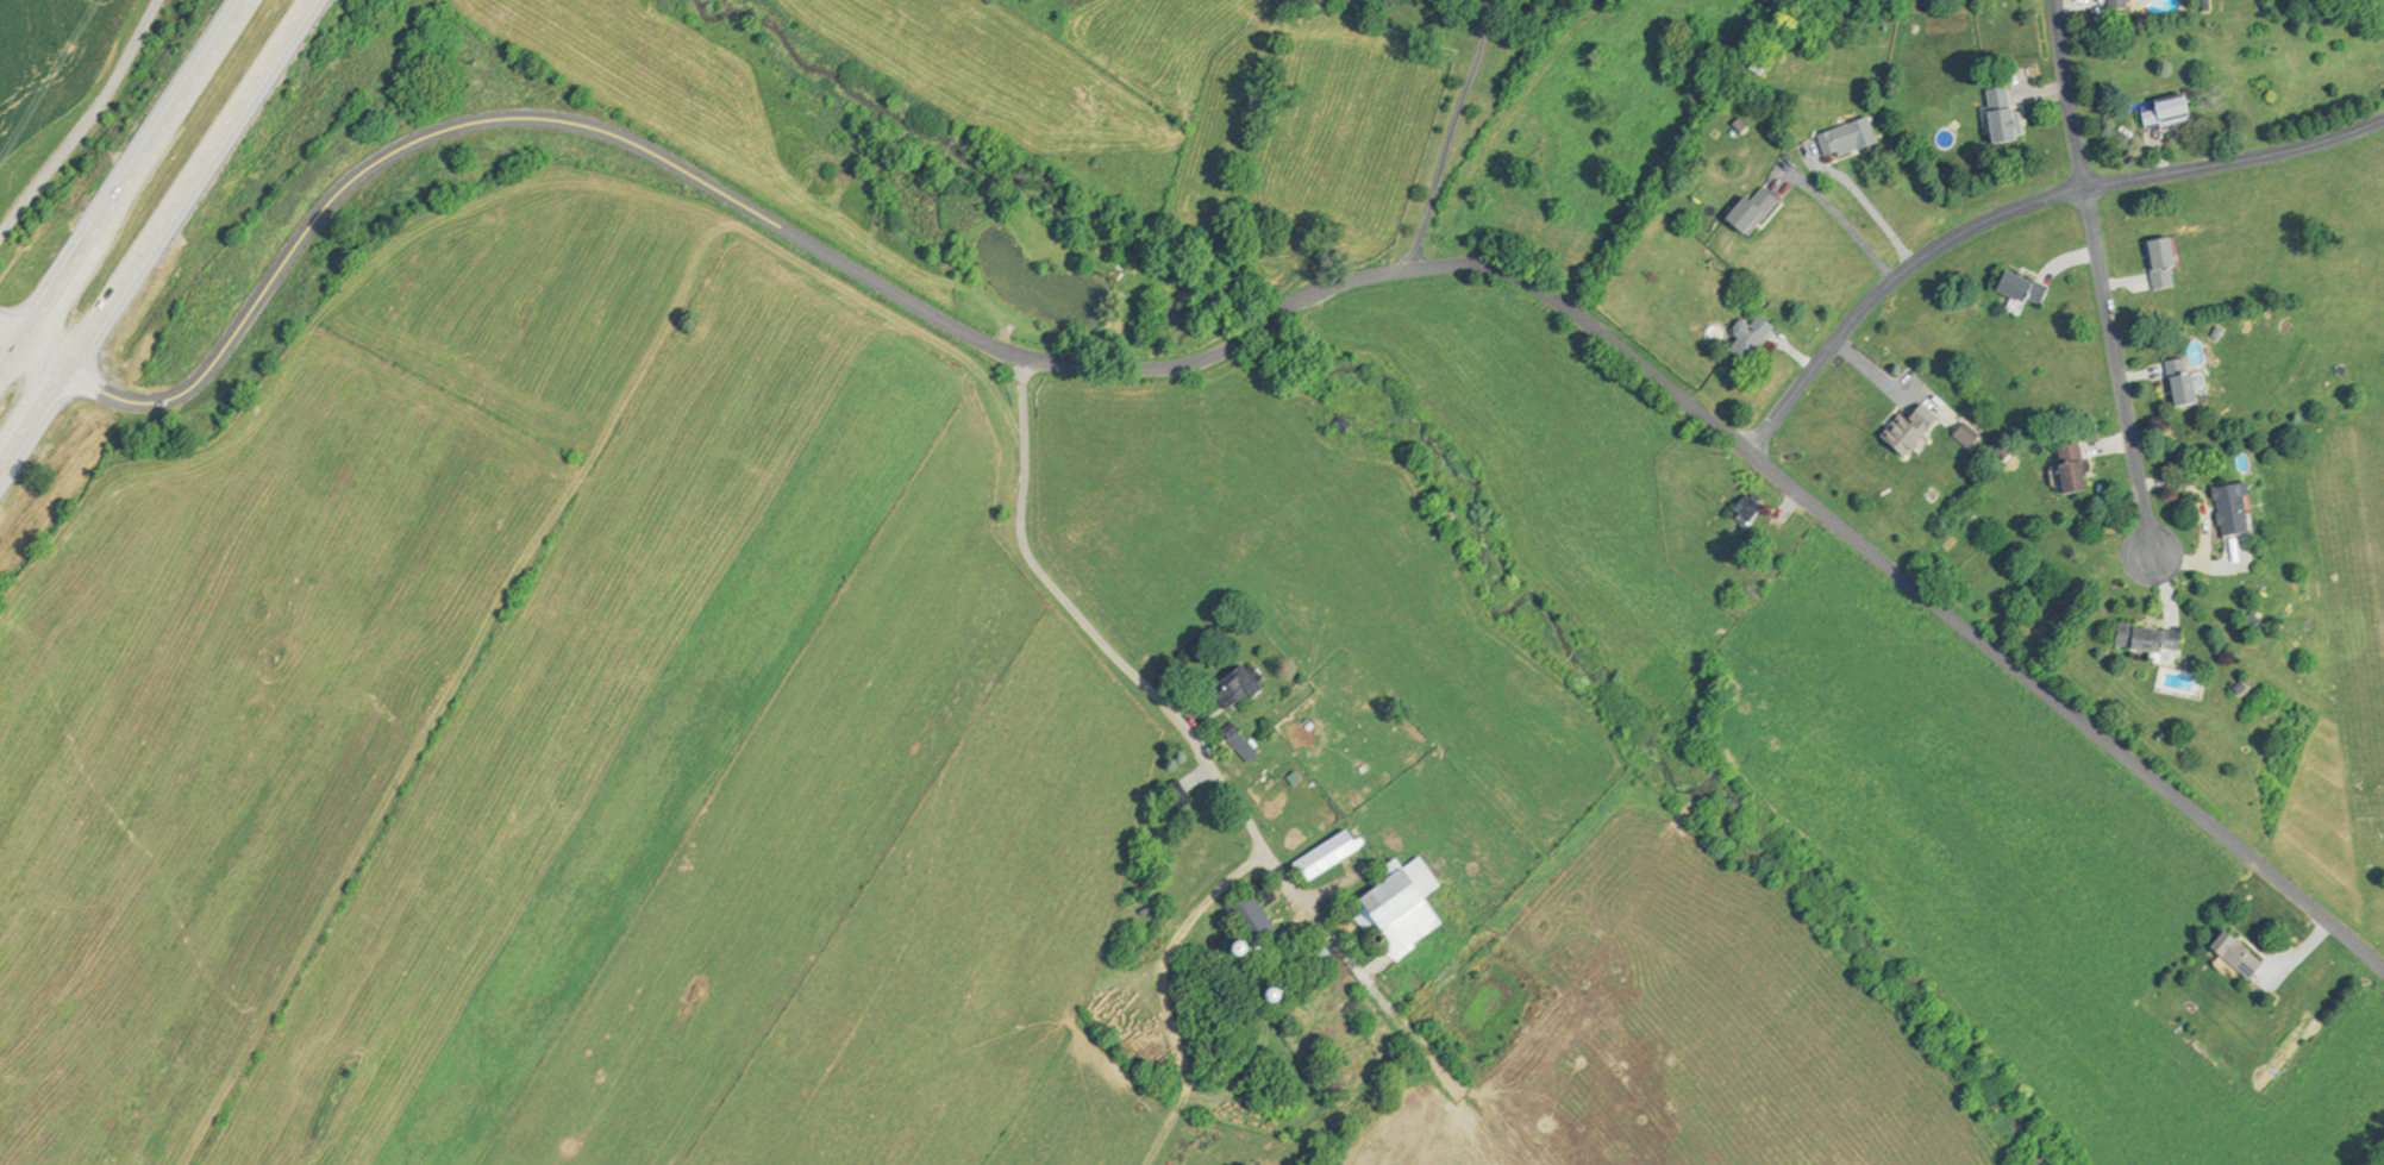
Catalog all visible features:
building: (2108, 2)
road: (2064, 96)
building: (2160, 109)
building: (1988, 113)
road: (559, 120)
road: (86, 127)
road: (1445, 133)
building: (1838, 137)
road: (150, 170)
building: (1741, 208)
road: (1865, 209)
road: (2019, 211)
road: (1848, 227)
road: (162, 236)
building: (2150, 261)
building: (2010, 288)
road: (1279, 305)
road: (17, 330)
building: (1740, 337)
road: (17, 364)
road: (2110, 372)
building: (2170, 381)
building: (1906, 426)
building: (2059, 466)
building: (1738, 507)
building: (2222, 508)
road: (1904, 587)
building: (2138, 639)
road: (1141, 688)
building: (1220, 689)
building: (1166, 794)
building: (1313, 857)
building: (1389, 908)
building: (1239, 915)
building: (2226, 954)

